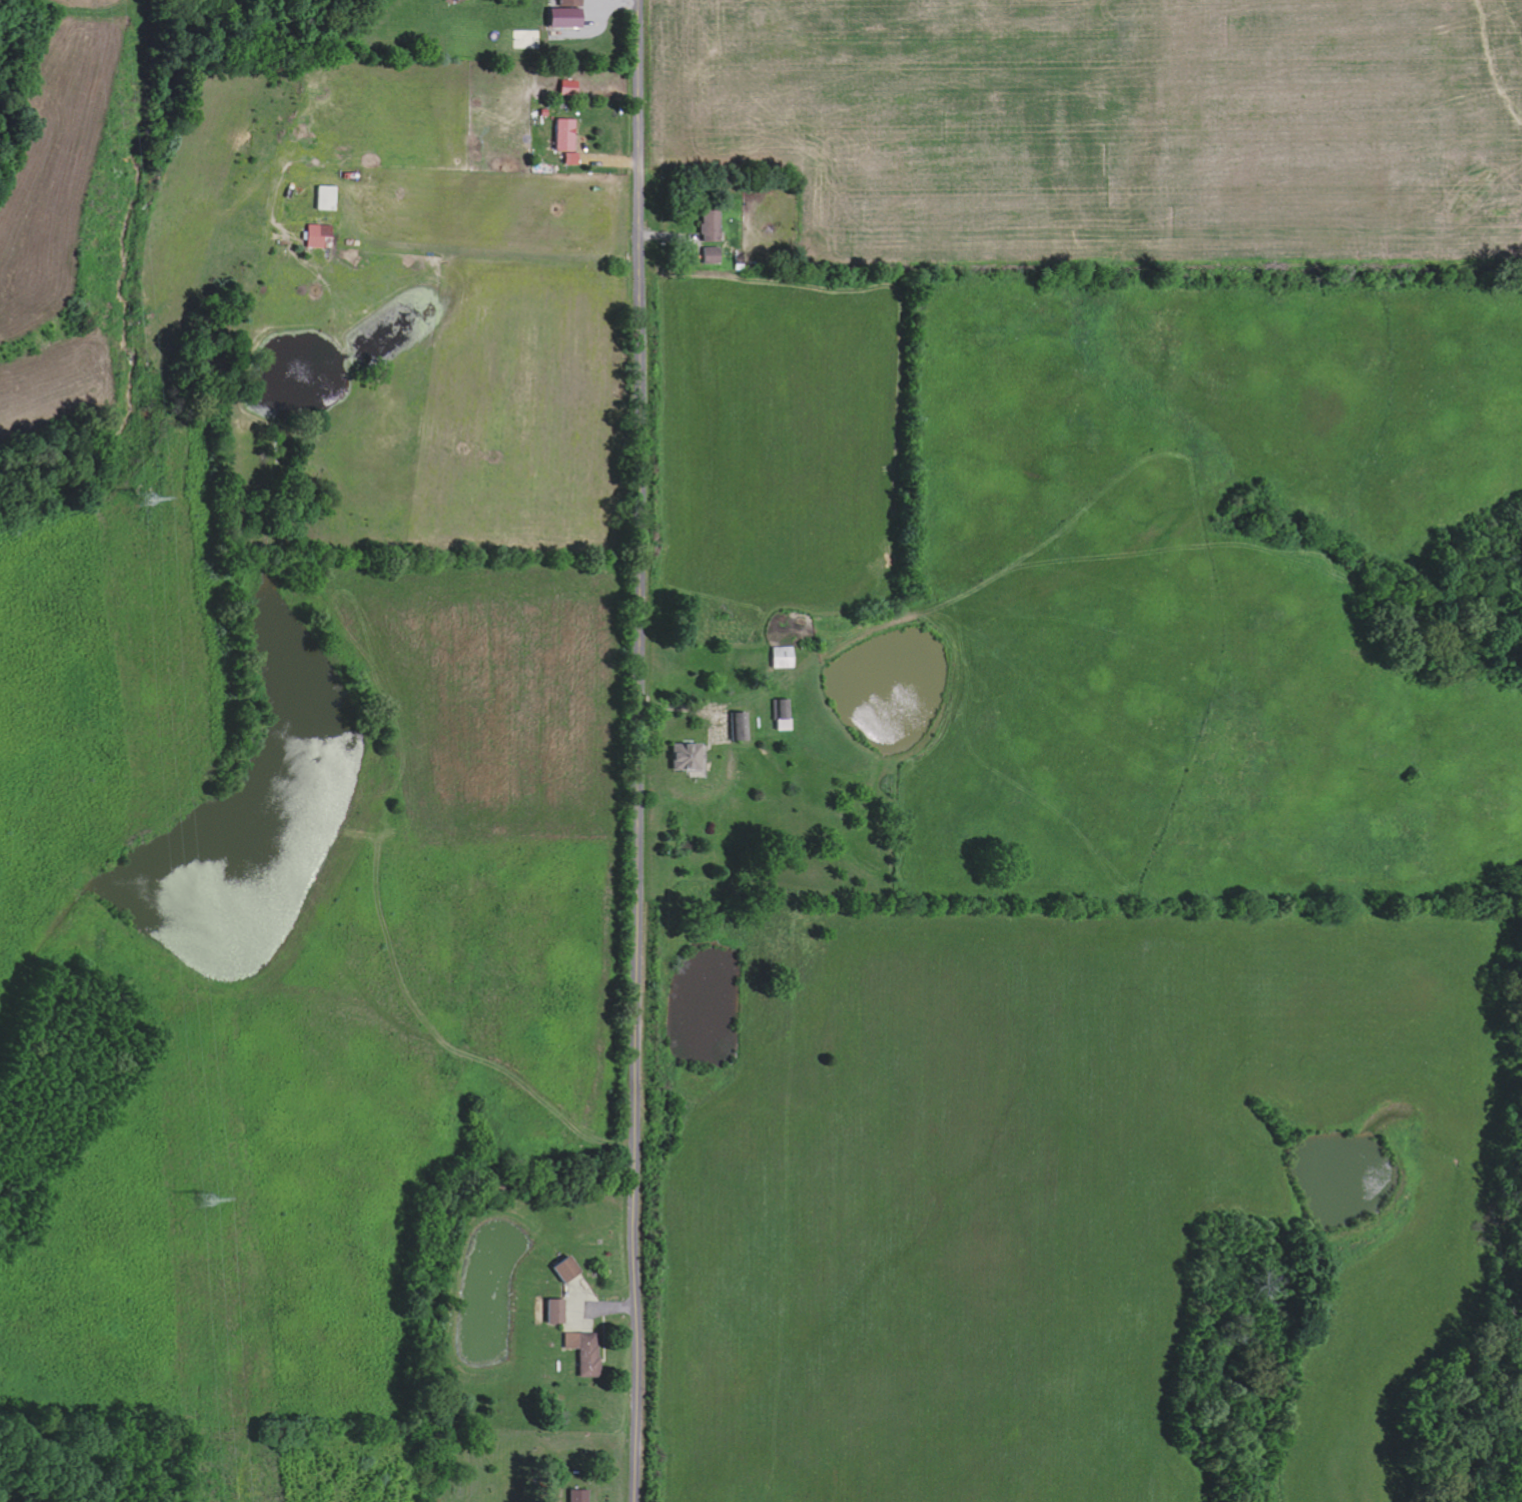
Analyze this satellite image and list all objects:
building: (564, 88)
building: (559, 136)
building: (567, 160)
building: (705, 227)
building: (705, 256)
power tower: (145, 500)
building: (777, 657)
building: (780, 719)
road: (639, 751)
building: (679, 758)
power tower: (206, 1199)
building: (559, 1269)
building: (550, 1312)
building: (579, 1352)
building: (573, 1496)

